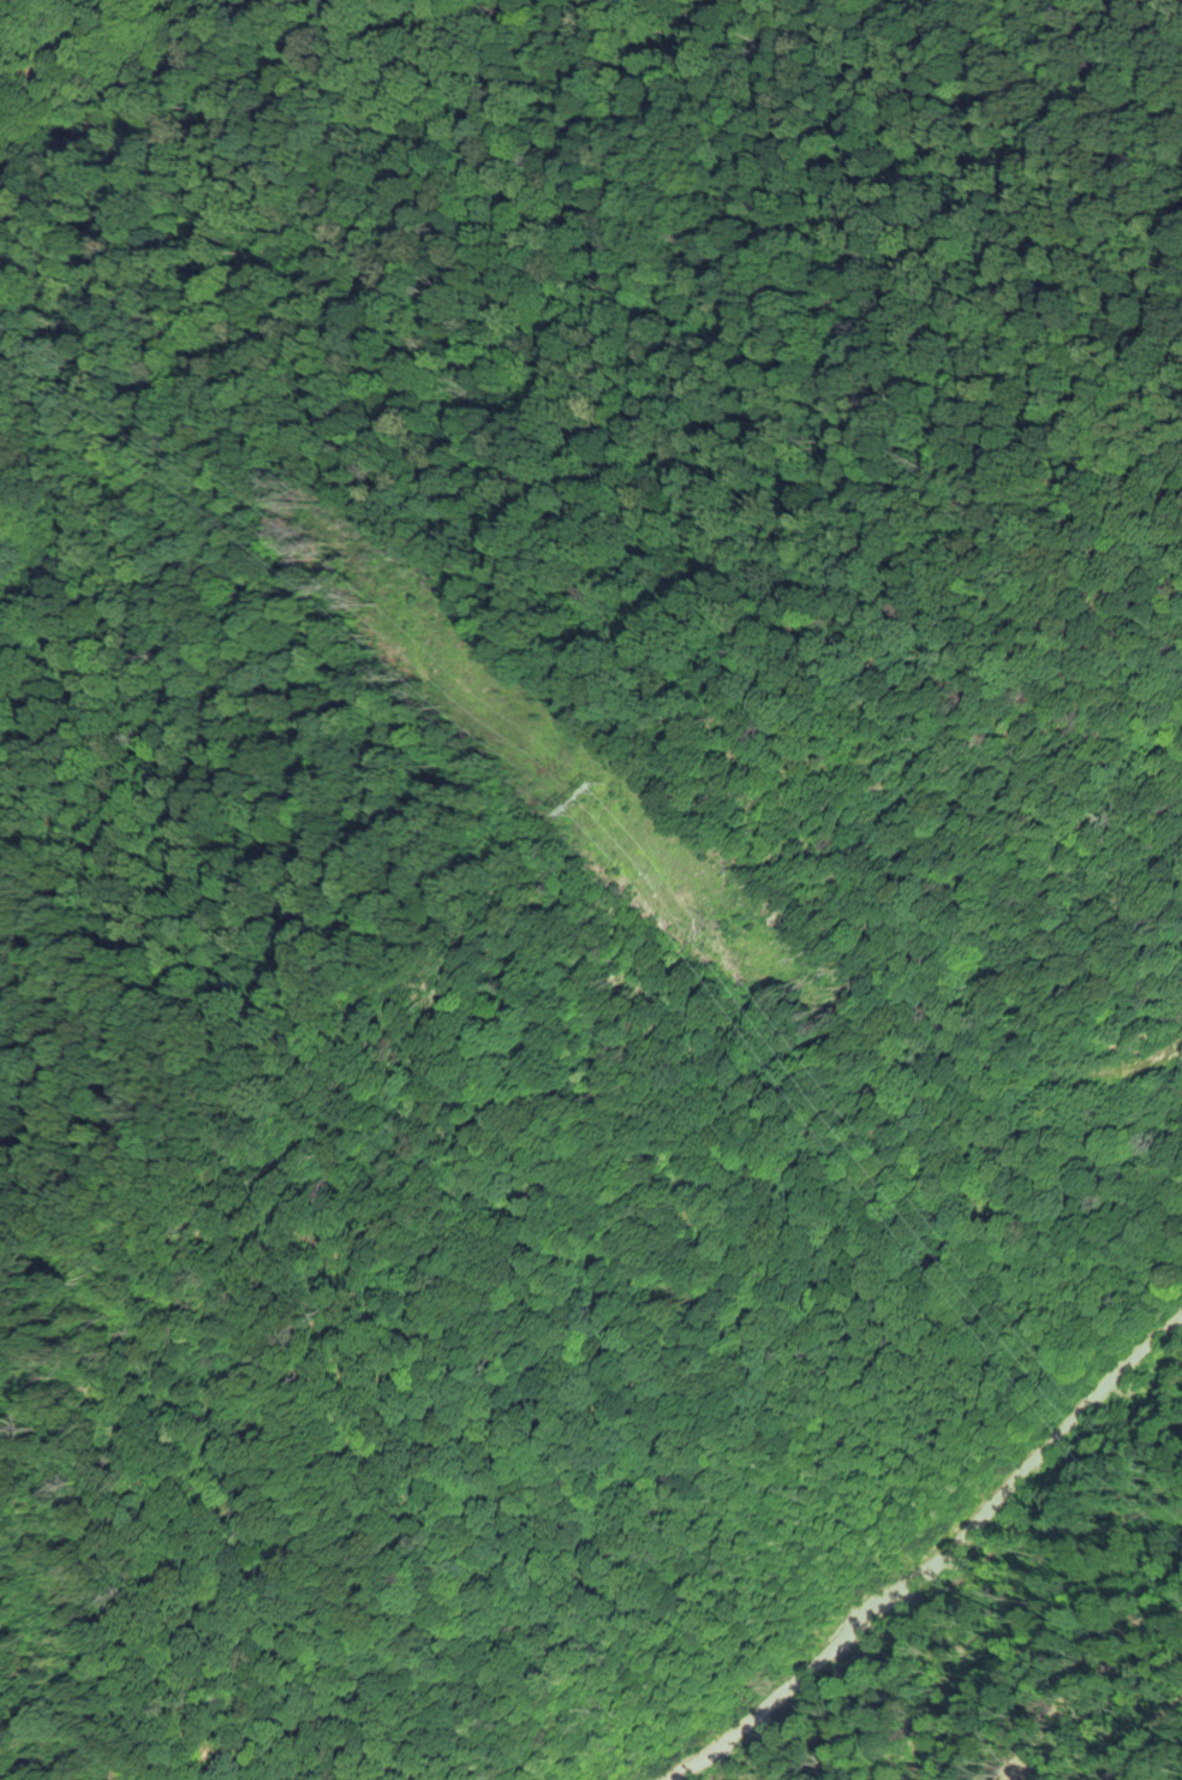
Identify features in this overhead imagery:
road: (953, 1556)

